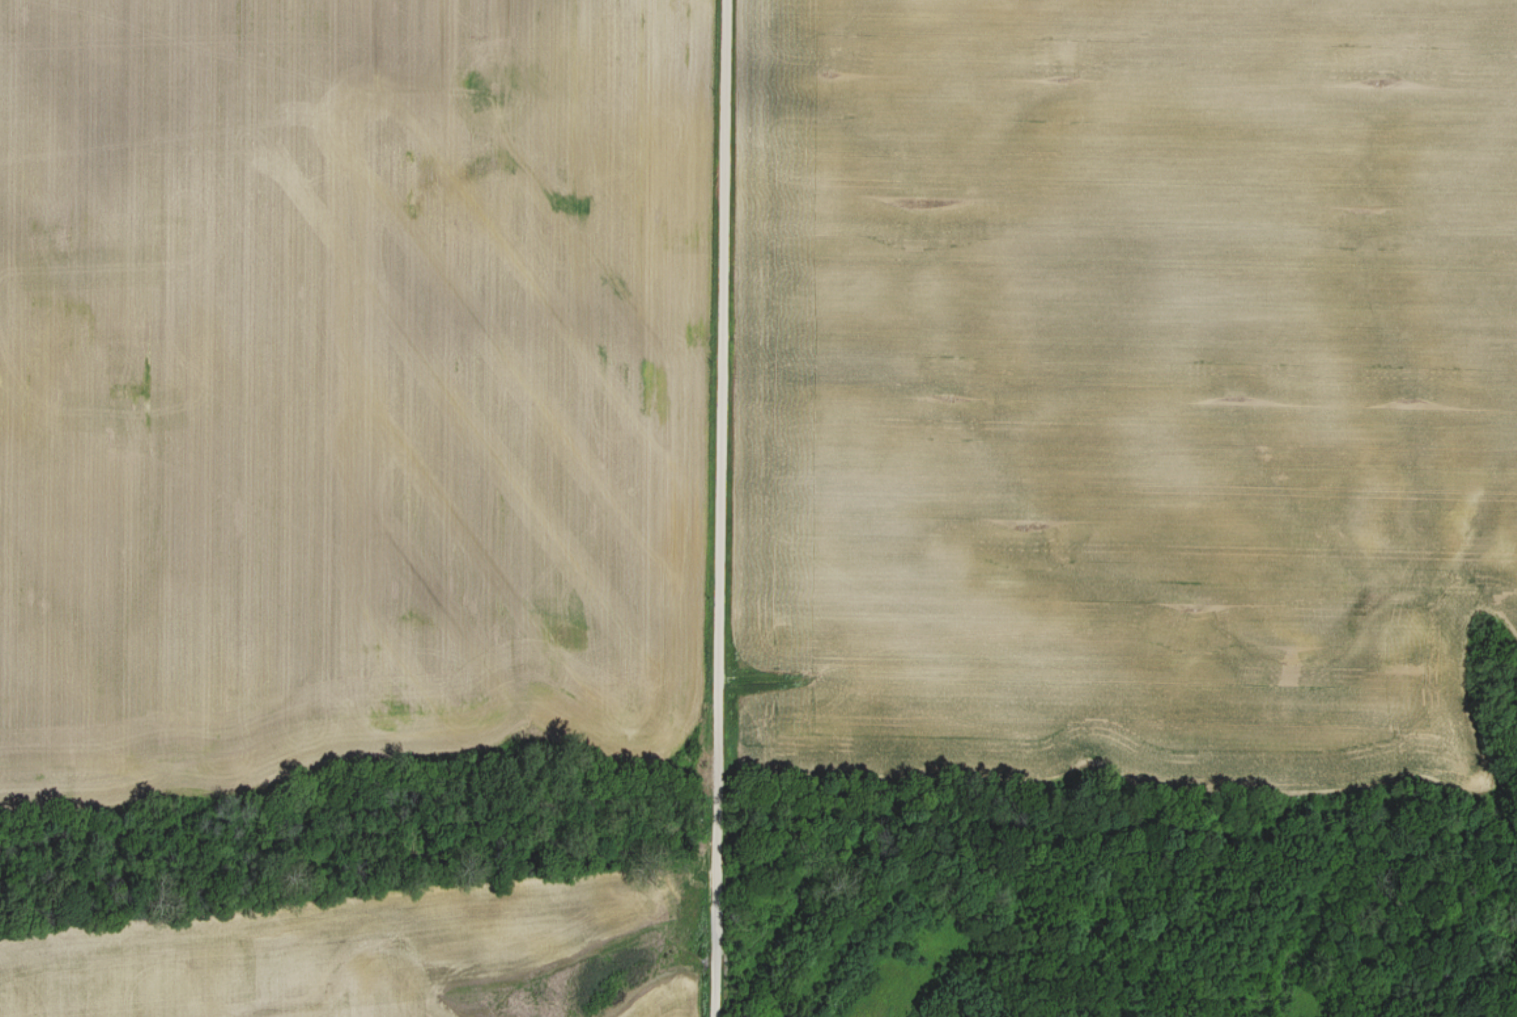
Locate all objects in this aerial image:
road: (720, 508)

